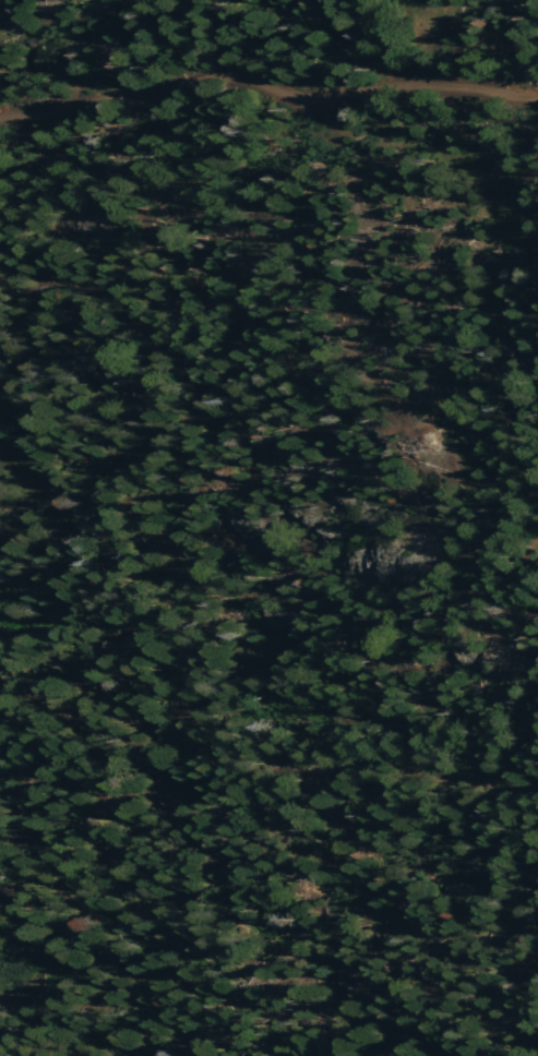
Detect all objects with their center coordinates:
road: (219, 82)
road: (11, 1035)

